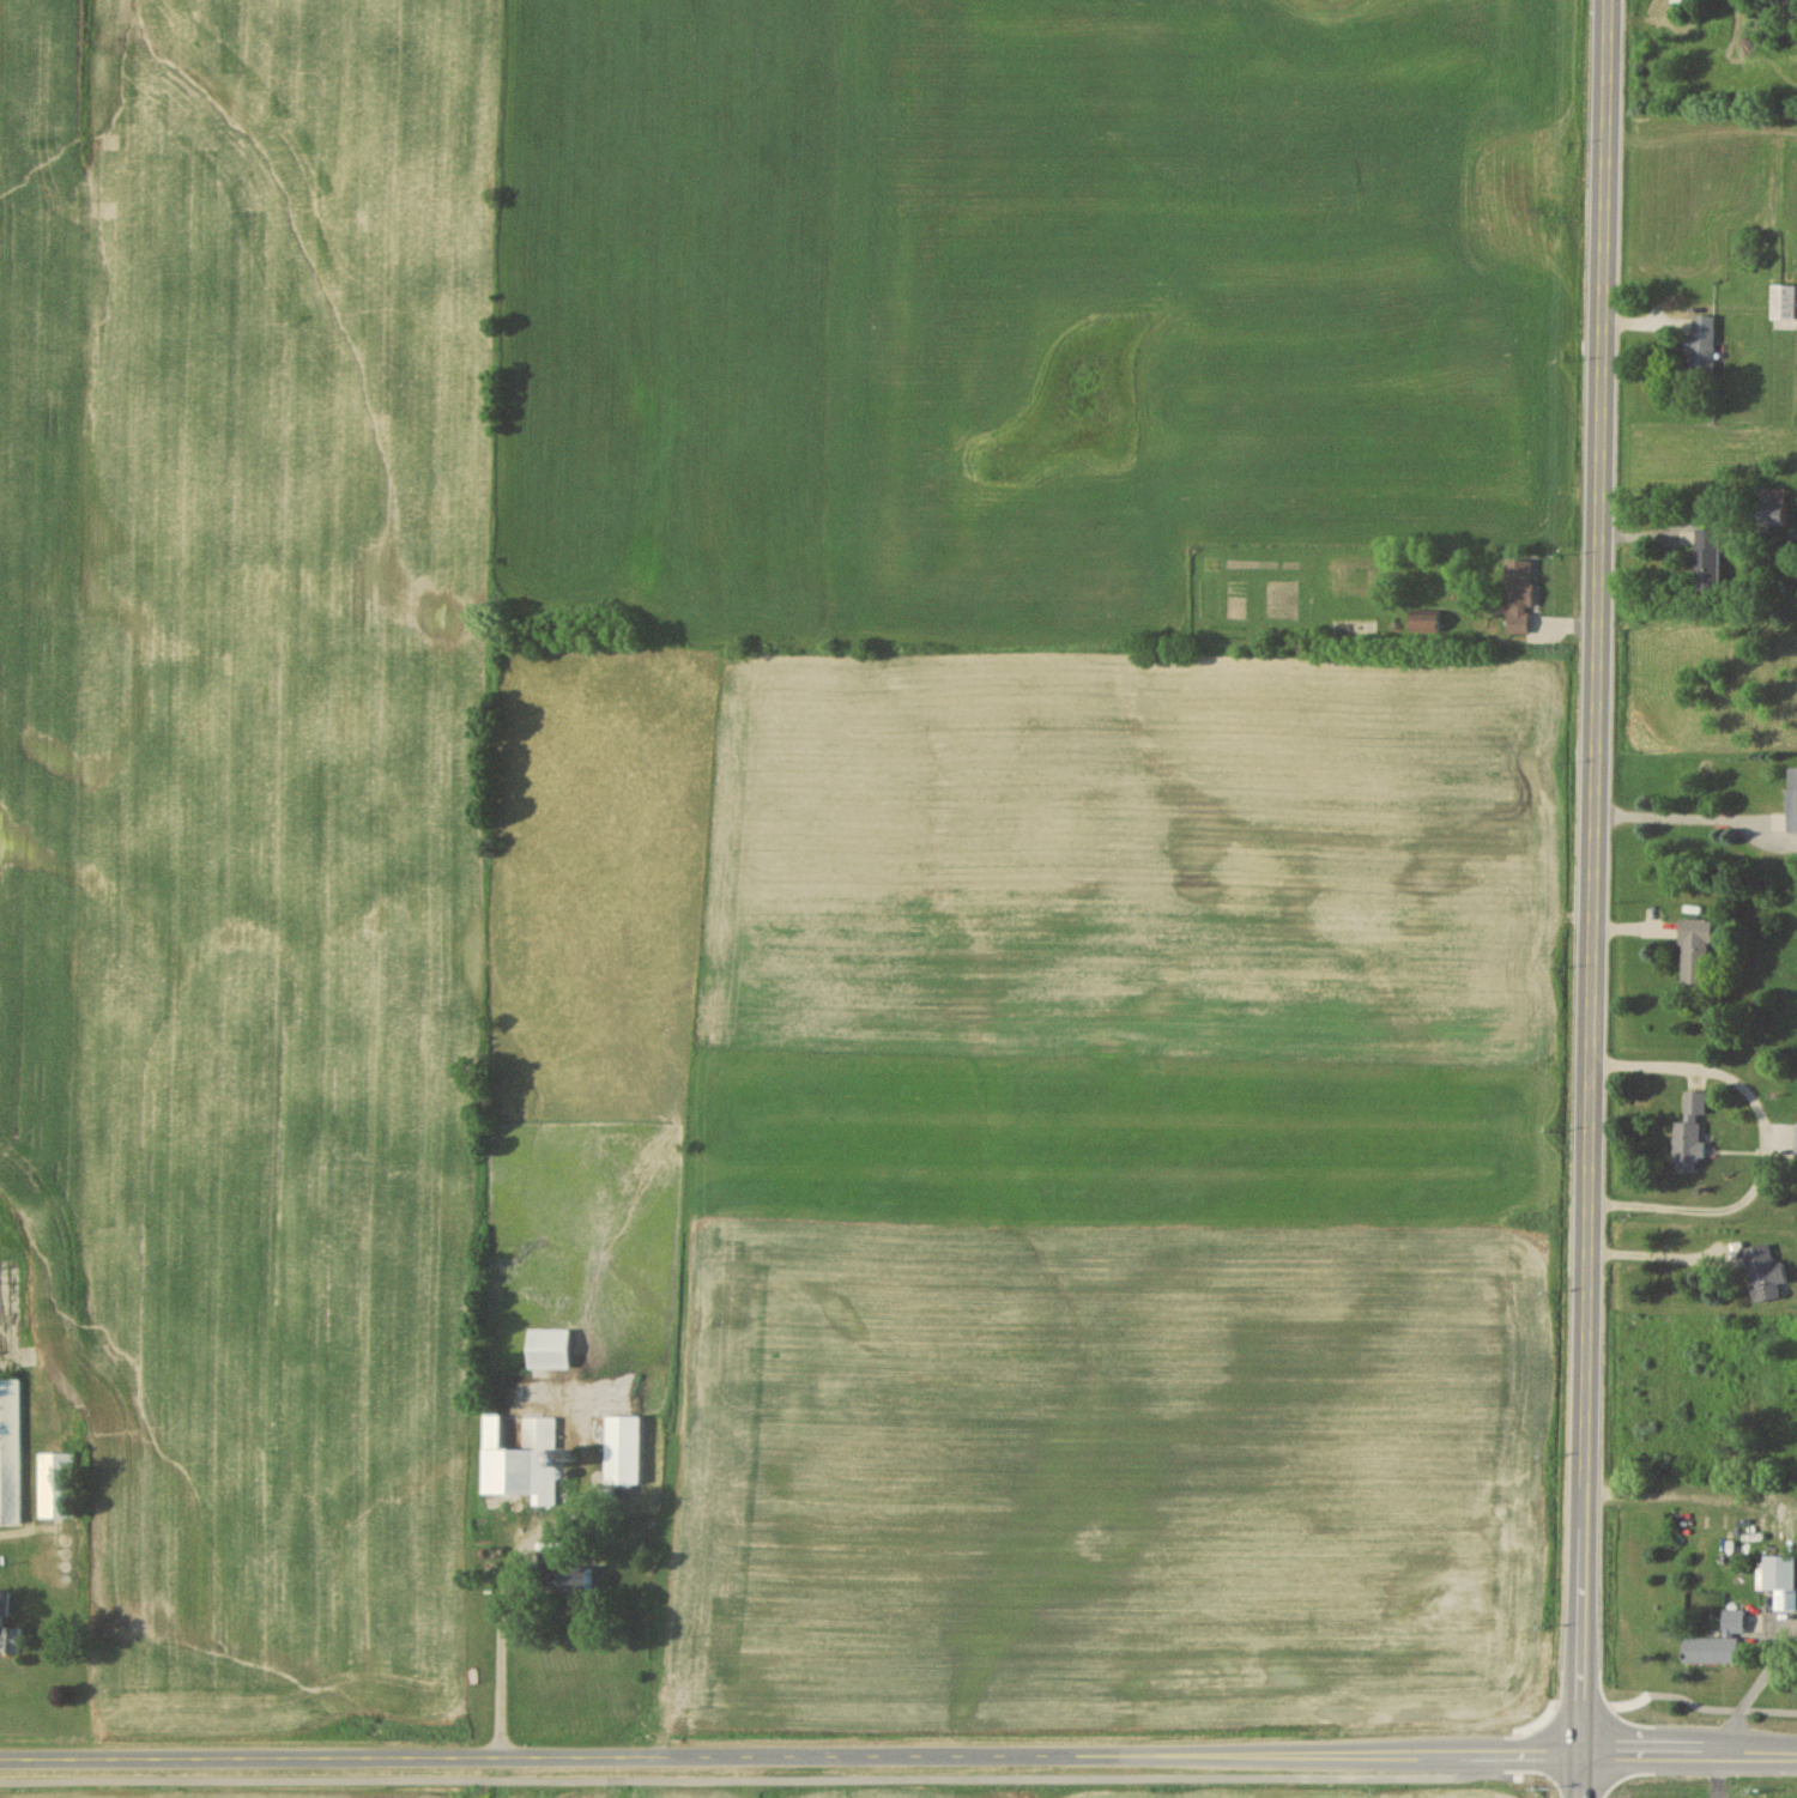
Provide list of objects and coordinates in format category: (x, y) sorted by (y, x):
building: (1677, 1)
building: (1790, 11)
building: (1783, 303)
building: (1700, 346)
building: (1772, 494)
building: (1769, 515)
building: (1707, 558)
building: (1518, 594)
building: (1423, 622)
building: (1353, 626)
building: (1791, 799)
road: (1688, 816)
road: (1596, 898)
building: (1695, 950)
building: (1689, 1131)
building: (1795, 1140)
road: (1762, 1143)
road: (1657, 1253)
building: (1763, 1271)
building: (547, 1346)
building: (622, 1448)
building: (524, 1458)
building: (60, 1484)
building: (563, 1574)
building: (1779, 1579)
building: (10, 1626)
building: (1717, 1640)
road: (496, 1654)
road: (1755, 1682)
road: (897, 1756)
road: (932, 1775)
road: (1719, 1776)

